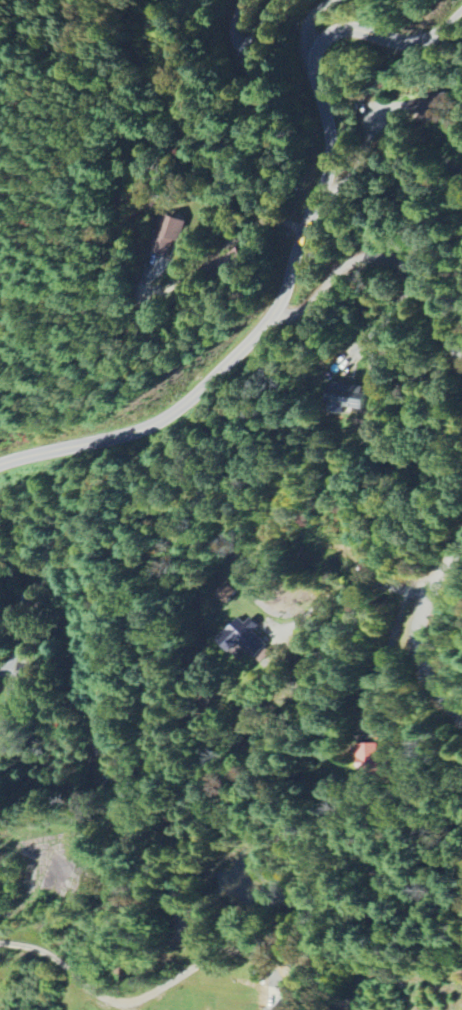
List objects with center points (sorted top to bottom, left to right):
road: (308, 21)
road: (245, 42)
building: (431, 106)
road: (293, 257)
road: (386, 259)
road: (381, 585)
road: (416, 626)
building: (247, 638)
building: (368, 759)
park: (193, 923)
road: (106, 996)
building: (273, 1009)

